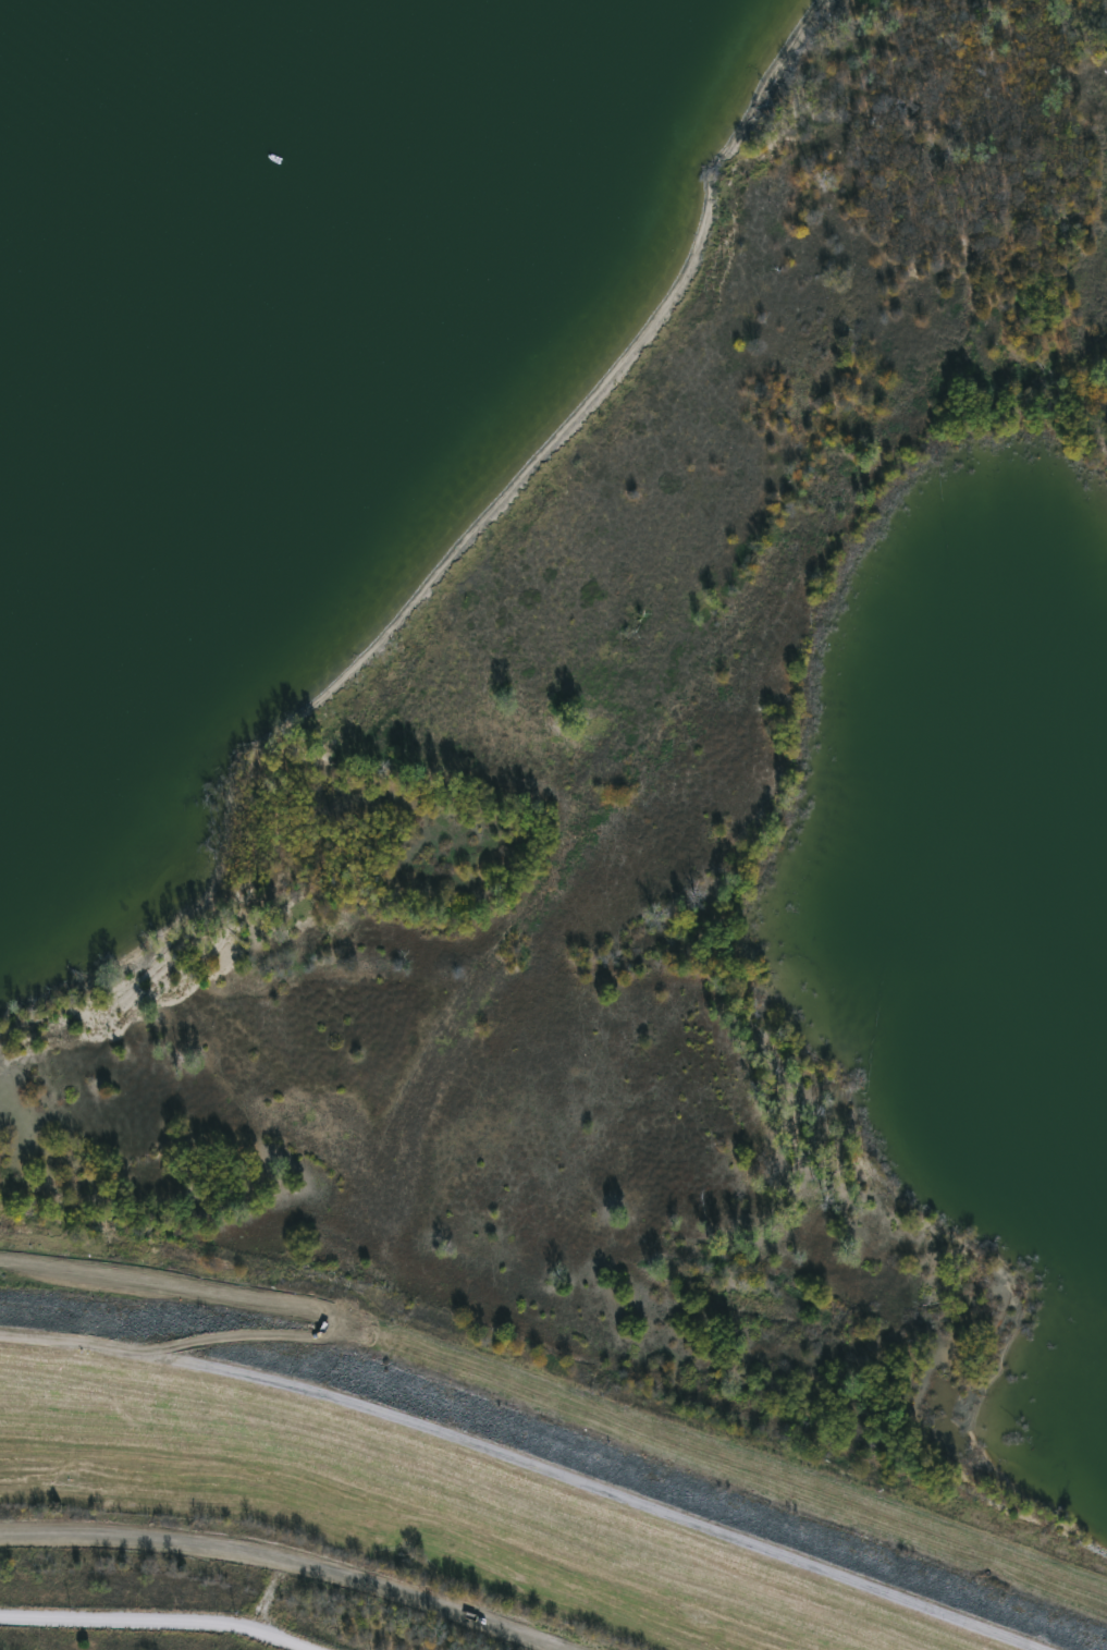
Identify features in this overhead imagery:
road: (527, 1464)
dam: (484, 1476)
road: (290, 1562)

